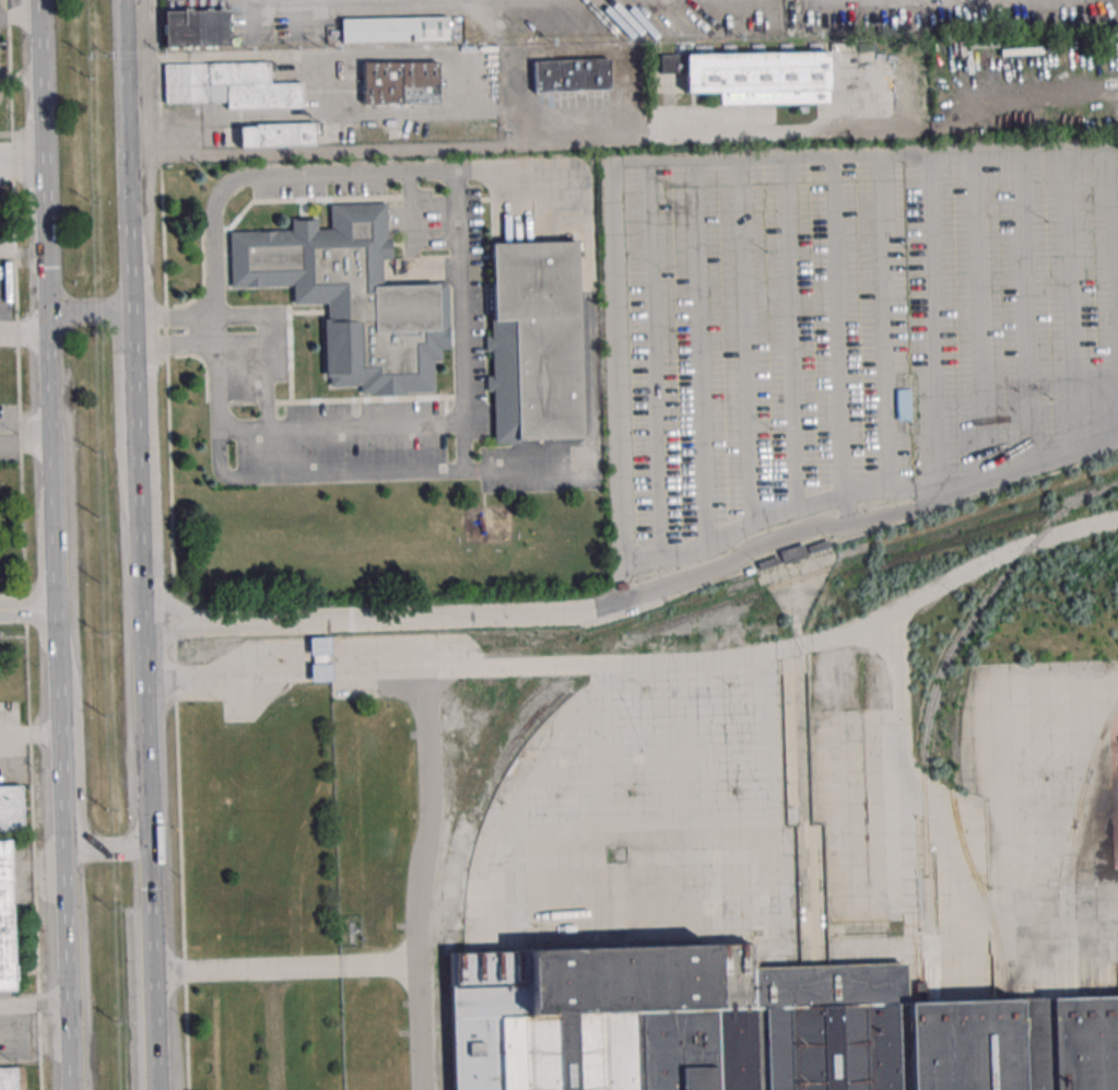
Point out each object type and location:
road: (279, 0)
road: (20, 17)
building: (196, 27)
building: (395, 28)
building: (569, 74)
building: (752, 75)
road: (20, 78)
building: (399, 82)
building: (228, 85)
building: (275, 134)
road: (834, 159)
road: (22, 161)
road: (128, 177)
road: (46, 211)
road: (23, 249)
road: (459, 261)
building: (352, 297)
road: (173, 313)
road: (102, 314)
traffic signals: (49, 315)
road: (123, 319)
road: (25, 327)
road: (174, 340)
building: (534, 340)
road: (134, 400)
building: (903, 403)
road: (26, 424)
road: (26, 442)
road: (590, 457)
railway: (1116, 480)
road: (170, 544)
road: (12, 578)
road: (27, 608)
road: (492, 614)
railway: (673, 617)
railway: (687, 617)
road: (25, 621)
railway: (941, 671)
road: (429, 676)
railway: (527, 699)
railway: (519, 732)
road: (28, 734)
road: (58, 757)
road: (142, 767)
railway: (1087, 770)
building: (11, 809)
railway: (1076, 821)
road: (92, 845)
traffic signals: (145, 846)
railway: (967, 859)
building: (5, 921)
road: (284, 966)
railway: (930, 982)
road: (33, 1005)
road: (420, 1027)
building: (752, 1027)
building: (12, 1078)

